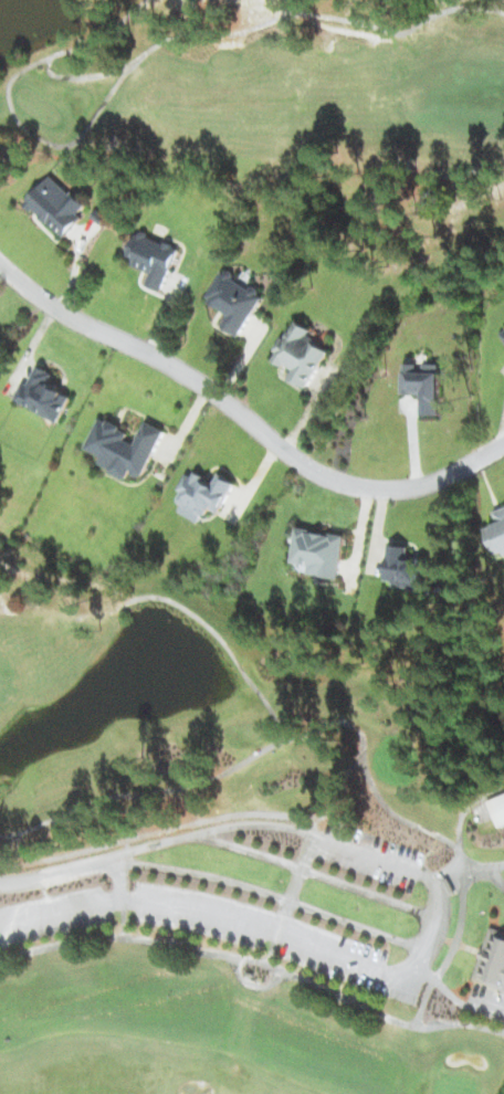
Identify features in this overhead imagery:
park: (291, 109)
building: (56, 206)
building: (154, 257)
building: (234, 301)
building: (300, 354)
building: (424, 385)
building: (43, 395)
road: (244, 413)
building: (124, 448)
building: (202, 495)
building: (497, 533)
building: (319, 551)
building: (406, 568)
building: (498, 809)
park: (245, 849)
road: (62, 872)
road: (385, 936)
building: (492, 960)

